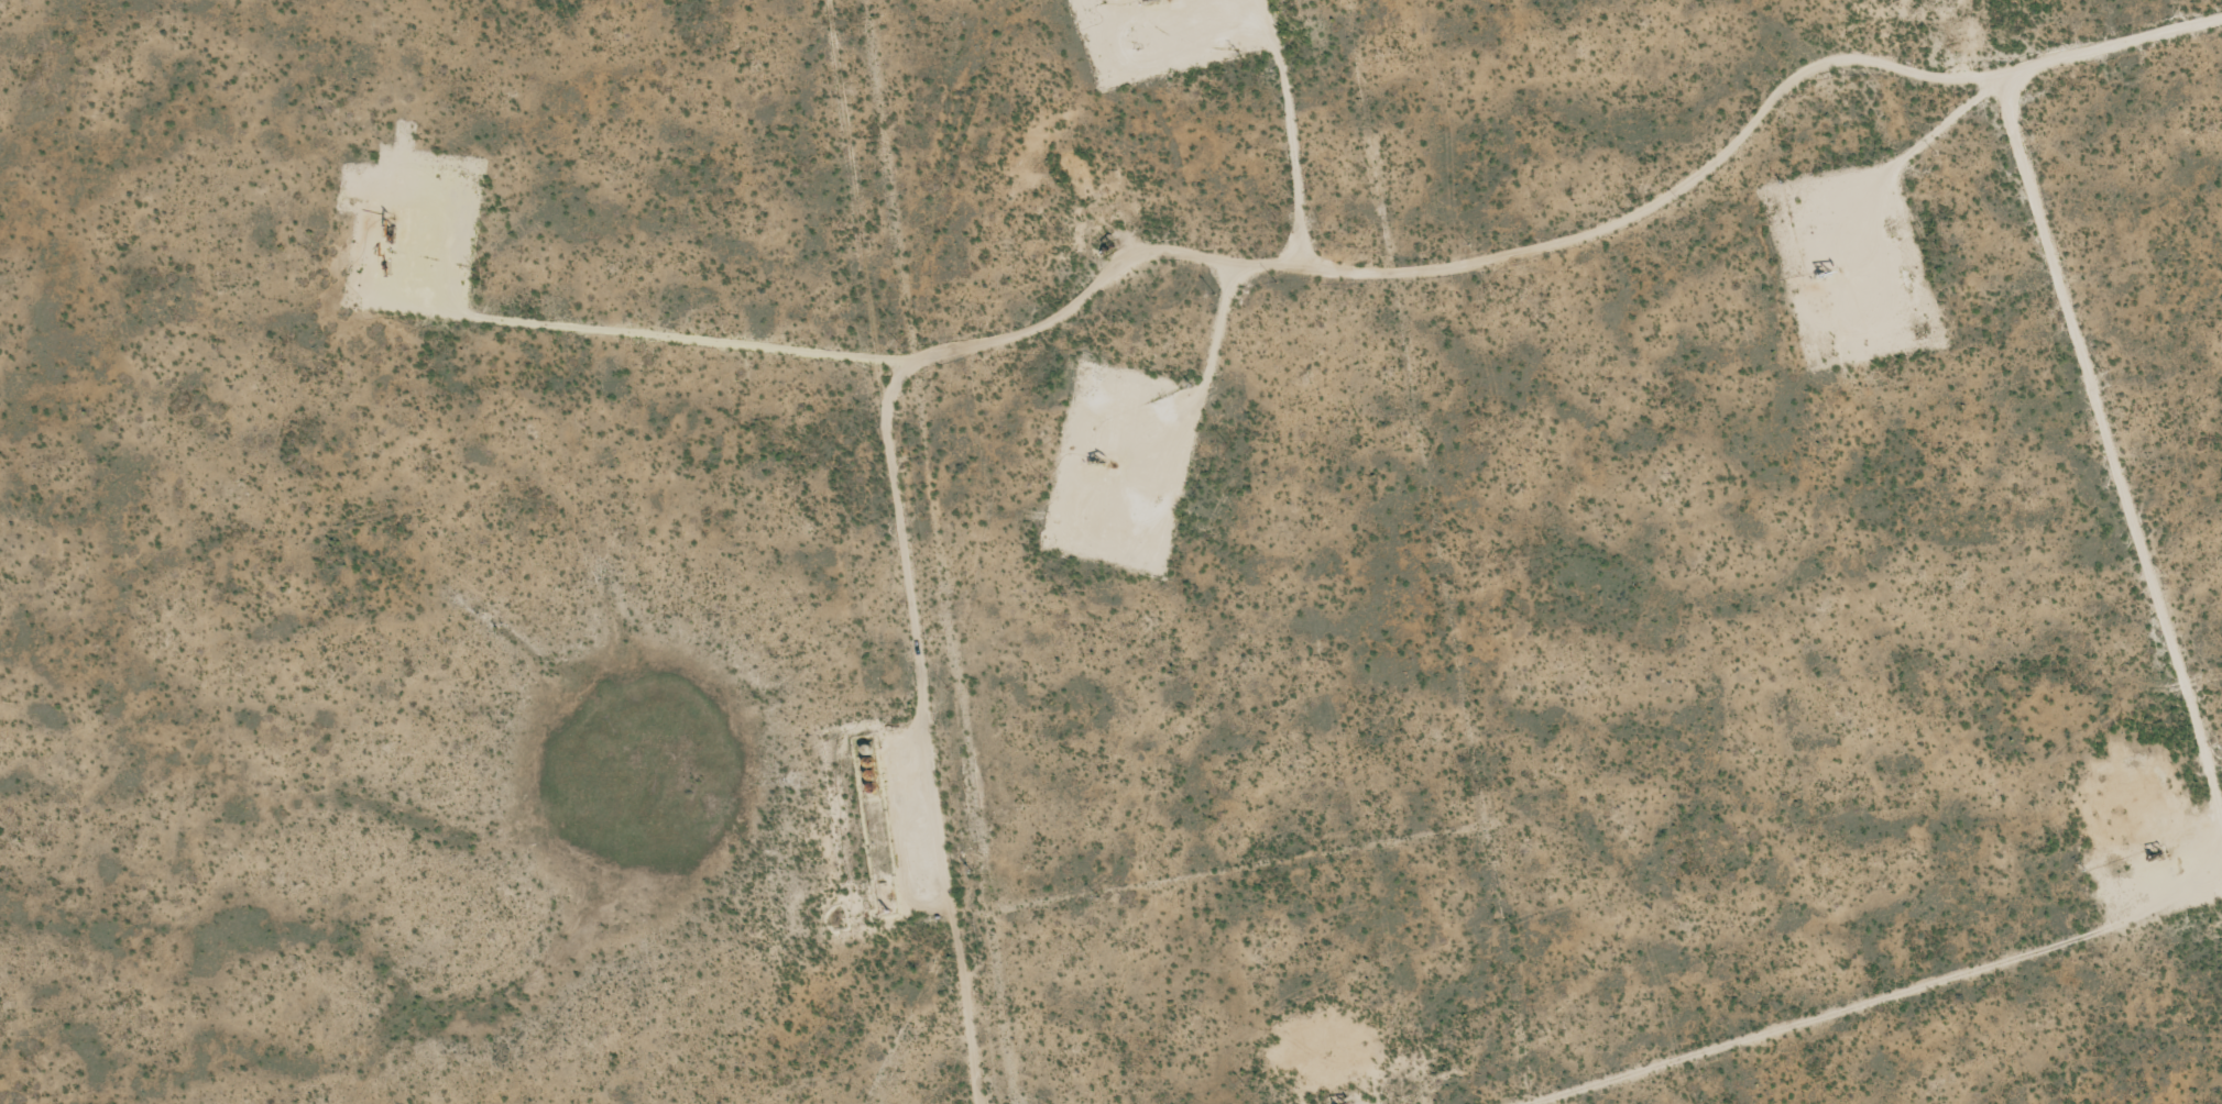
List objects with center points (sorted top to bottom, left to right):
road: (1099, 278)
road: (2070, 347)

